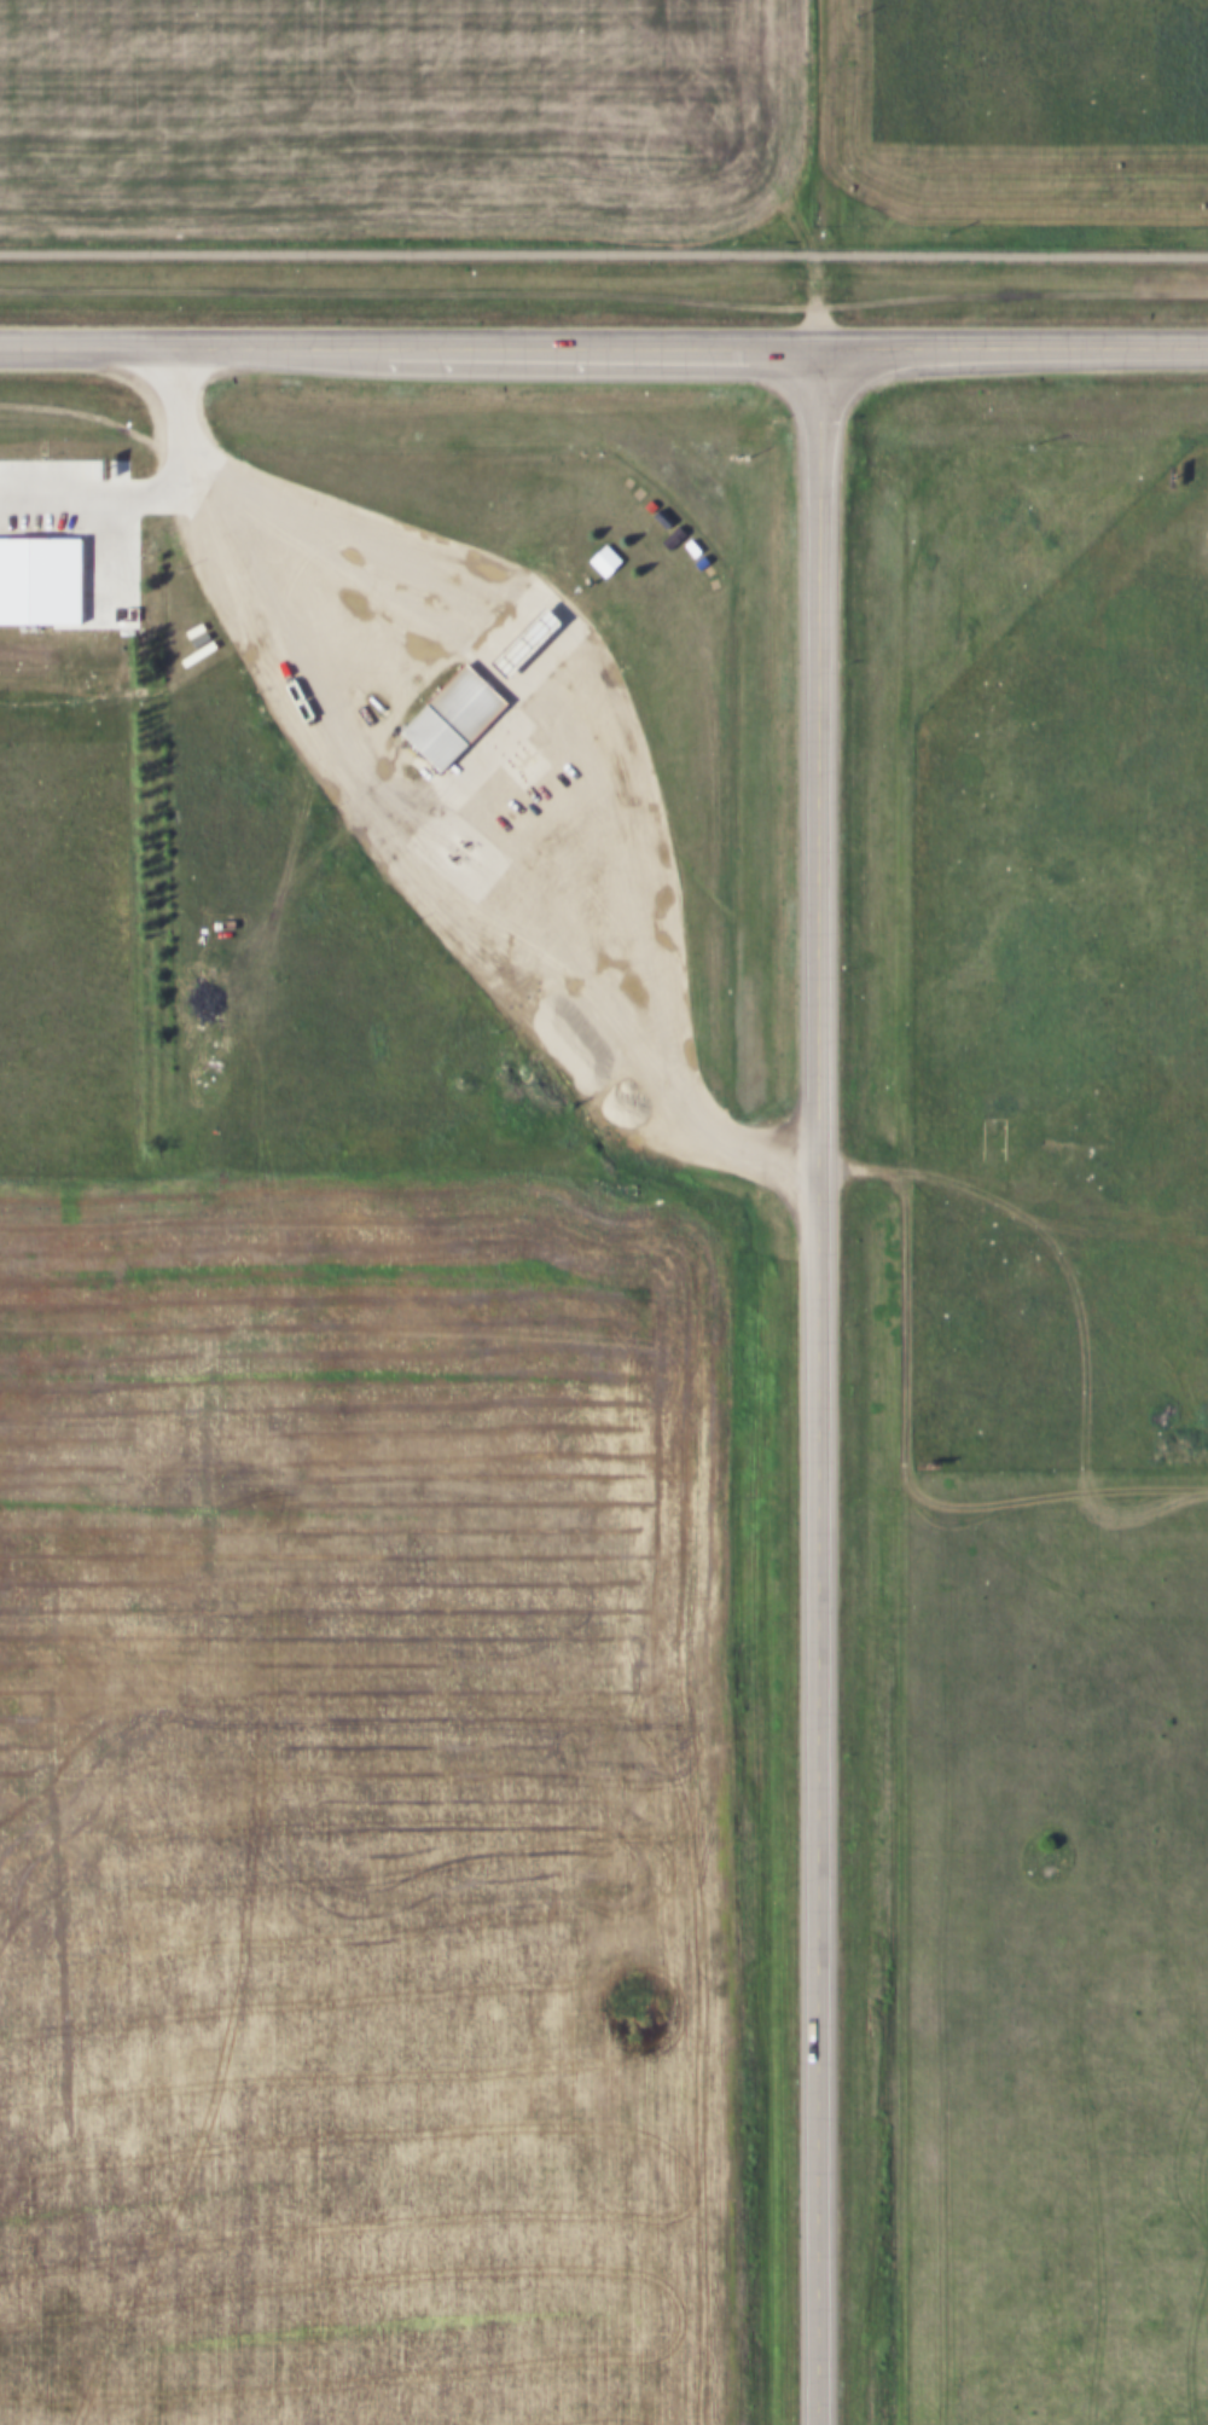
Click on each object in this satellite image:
road: (824, 173)
road: (604, 255)
road: (193, 343)
road: (600, 343)
road: (1011, 347)
building: (597, 559)
building: (517, 638)
building: (445, 713)
road: (406, 832)
road: (818, 1385)

